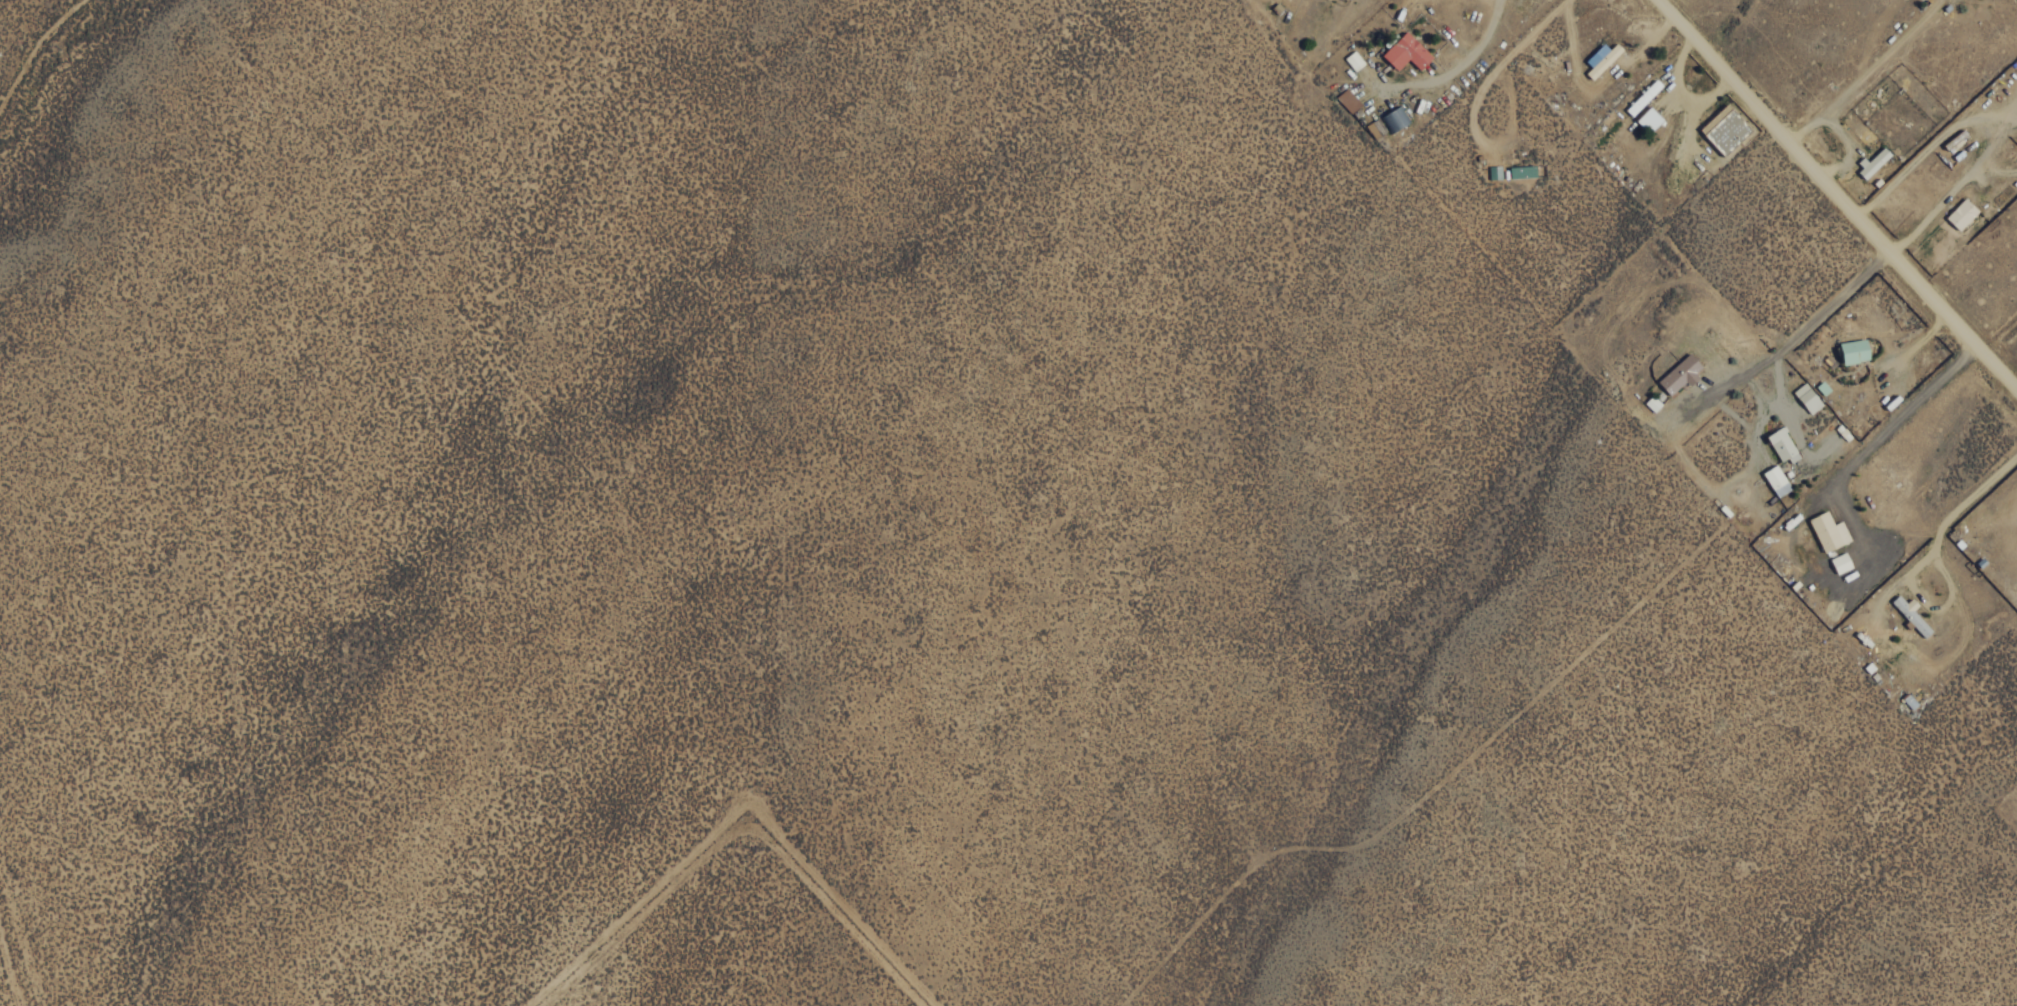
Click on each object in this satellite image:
building: (1406, 52)
building: (1353, 61)
building: (1643, 97)
building: (1349, 103)
building: (1649, 120)
building: (1726, 130)
building: (1874, 161)
road: (1837, 194)
building: (1961, 214)
building: (1855, 350)
building: (1681, 373)
building: (1822, 387)
building: (1807, 397)
building: (1652, 403)
building: (1781, 444)
building: (1776, 480)
building: (1828, 531)
building: (1840, 563)
building: (1911, 614)

